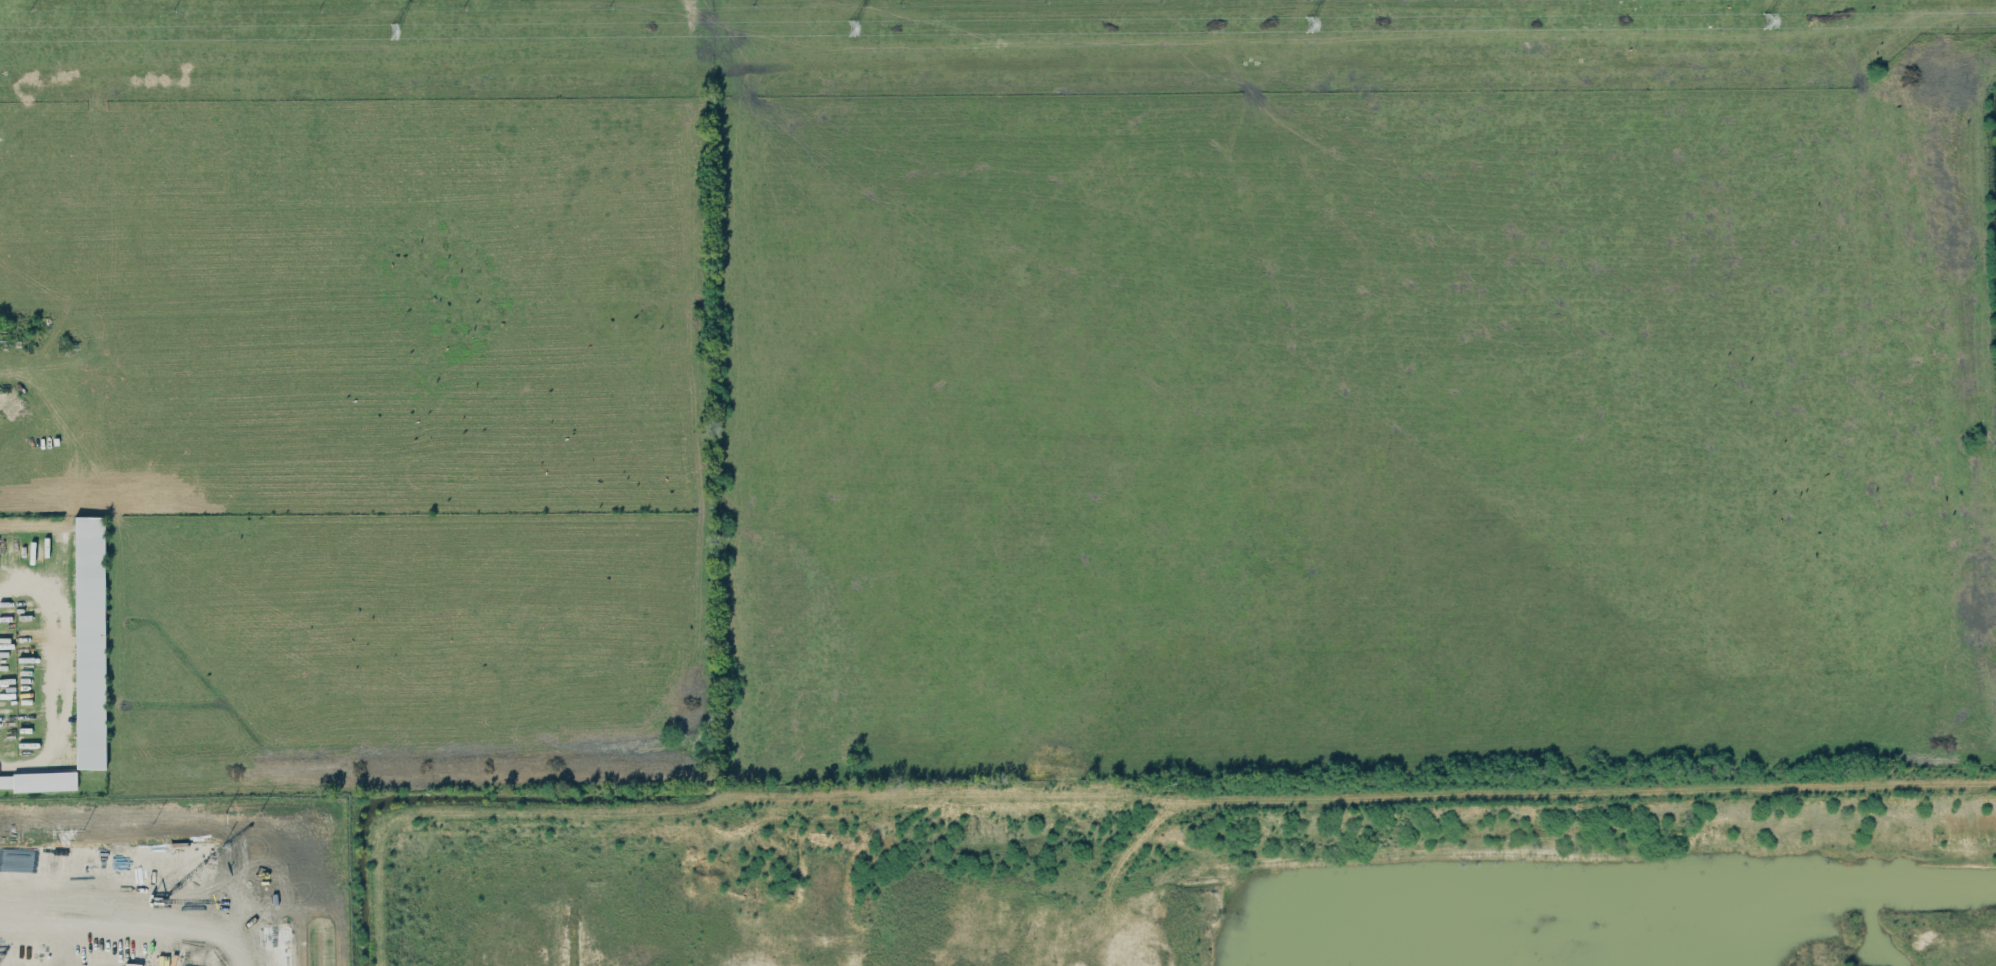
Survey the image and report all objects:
power tower: (1763, 24)
power tower: (1304, 27)
power tower: (840, 30)
power tower: (388, 32)
building: (89, 642)
road: (70, 661)
building: (39, 781)
road: (150, 903)

